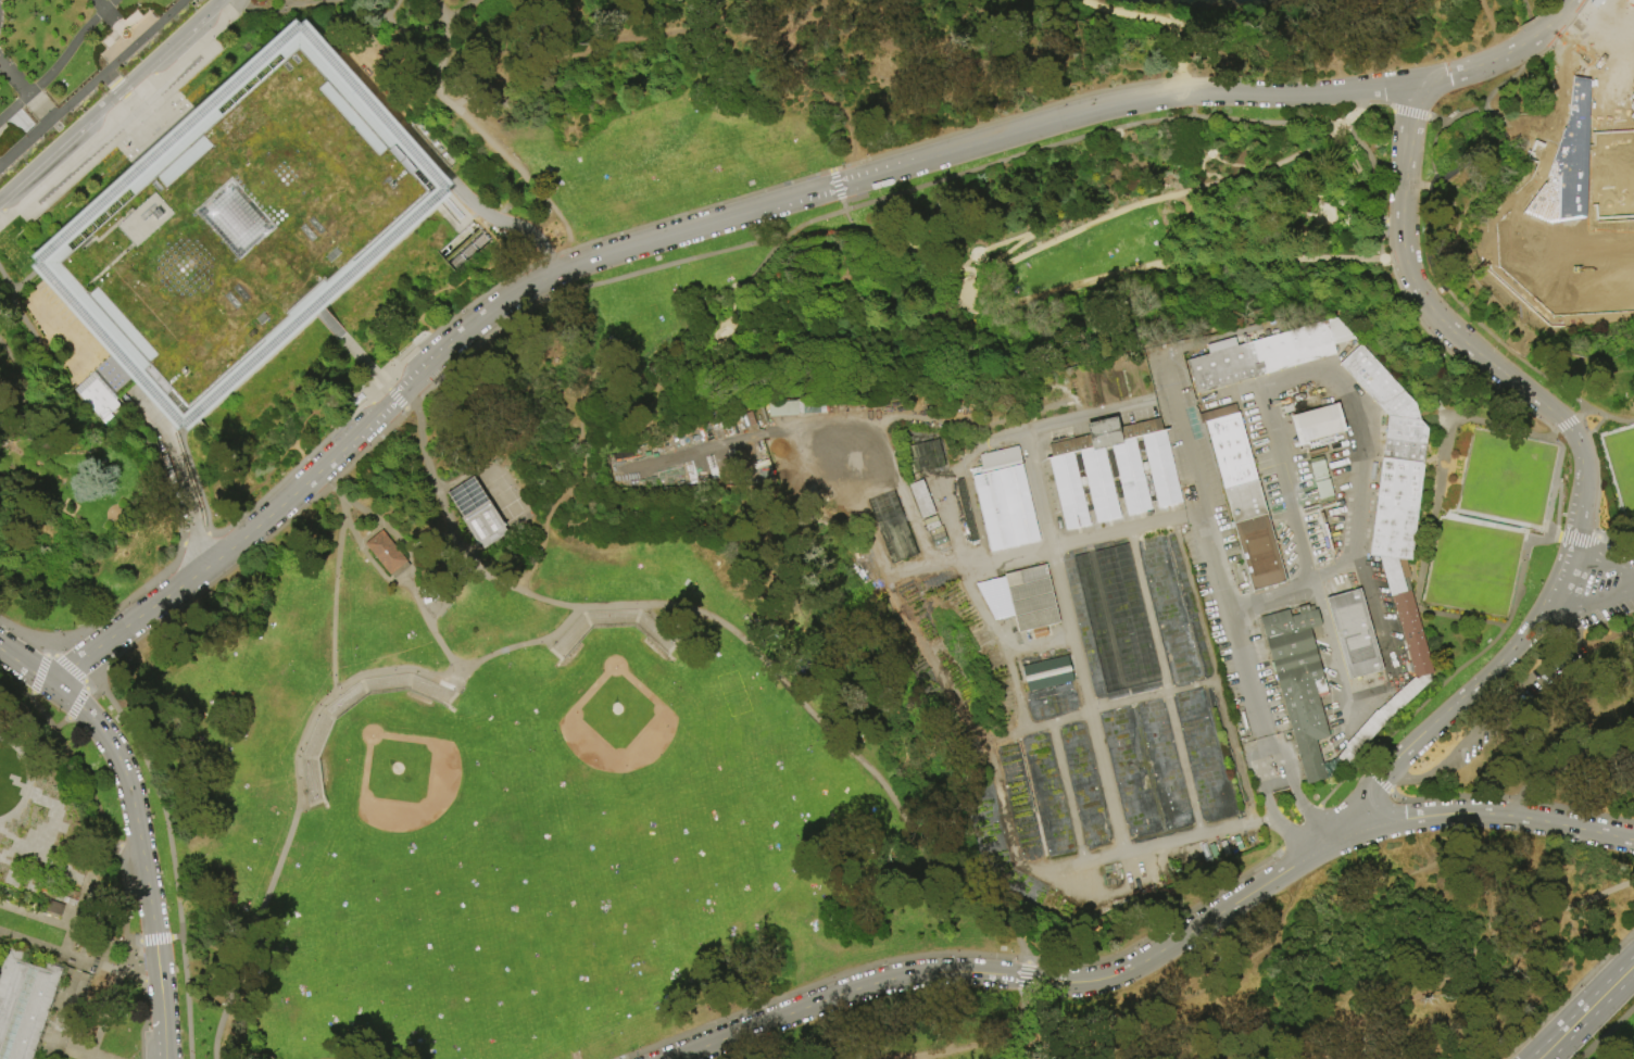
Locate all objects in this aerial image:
road: (288, 3)
road: (289, 5)
road: (457, 8)
road: (1563, 9)
road: (103, 10)
road: (1524, 10)
road: (664, 17)
road: (1155, 17)
road: (143, 25)
road: (1548, 25)
road: (1582, 25)
road: (1491, 28)
fountain: (125, 34)
road: (1534, 36)
road: (599, 46)
road: (115, 50)
road: (441, 60)
road: (120, 61)
road: (59, 62)
park: (68, 62)
road: (1471, 68)
road: (1558, 68)
road: (154, 71)
road: (804, 72)
road: (14, 78)
park: (1632, 79)
road: (1499, 85)
park: (1611, 85)
road: (116, 88)
road: (1549, 88)
road: (1187, 96)
road: (110, 99)
road: (133, 104)
road: (1375, 104)
road: (120, 110)
road: (1408, 112)
road: (1350, 114)
road: (5, 116)
parking lot: (113, 116)
road: (21, 118)
road: (1436, 121)
road: (1555, 121)
road: (1504, 125)
road: (154, 127)
road: (124, 135)
road: (25, 142)
road: (1059, 142)
park: (1633, 147)
road: (177, 151)
road: (9, 154)
road: (1457, 162)
road: (1223, 163)
building: (1566, 164)
park: (1617, 171)
road: (135, 175)
road: (525, 175)
road: (1374, 186)
road: (1524, 186)
road: (837, 190)
road: (1449, 190)
road: (1136, 204)
road: (2, 206)
road: (174, 214)
road: (846, 219)
road: (1391, 223)
building: (1517, 223)
road: (652, 224)
building: (241, 225)
road: (514, 227)
road: (109, 232)
road: (665, 236)
road: (1010, 239)
road: (1433, 254)
park: (1630, 257)
park: (1606, 261)
park: (1574, 263)
road: (112, 265)
road: (1143, 267)
road: (563, 282)
road: (1483, 287)
road: (967, 288)
road: (837, 292)
road: (1450, 294)
road: (721, 304)
road: (533, 307)
road: (1542, 312)
fountain: (713, 316)
road: (844, 320)
road: (25, 323)
road: (714, 329)
road: (750, 339)
road: (350, 346)
building: (1269, 355)
road: (1456, 356)
road: (734, 358)
road: (742, 360)
road: (1048, 360)
road: (478, 363)
road: (567, 368)
road: (1325, 370)
road: (633, 373)
road: (17, 374)
building: (1381, 386)
road: (501, 388)
road: (594, 391)
road: (40, 393)
road: (394, 396)
building: (96, 398)
road: (373, 406)
road: (1610, 416)
road: (624, 417)
road: (892, 419)
building: (1317, 423)
road: (529, 424)
road: (1564, 425)
road: (13, 426)
road: (1596, 426)
road: (142, 437)
road: (296, 437)
building: (1407, 440)
building: (1231, 445)
road: (299, 451)
building: (923, 455)
road: (32, 461)
road: (42, 463)
park: (1621, 466)
road: (1583, 467)
road: (39, 468)
building: (1319, 468)
road: (1596, 469)
road: (466, 470)
road: (193, 472)
road: (180, 477)
road: (188, 478)
road: (324, 479)
building: (1131, 479)
park: (1504, 481)
road: (1554, 486)
road: (1283, 488)
road: (1363, 488)
road: (338, 492)
building: (1327, 492)
building: (921, 499)
building: (1004, 500)
building: (1246, 501)
road: (1431, 503)
road: (1556, 507)
building: (1398, 509)
building: (476, 512)
park: (476, 512)
building: (965, 512)
road: (205, 518)
road: (548, 524)
building: (892, 527)
road: (205, 529)
park: (817, 529)
road: (1617, 530)
road: (372, 535)
road: (1549, 537)
road: (1576, 537)
road: (1598, 537)
road: (196, 539)
road: (1046, 549)
building: (1260, 552)
building: (385, 553)
road: (437, 554)
road: (1215, 555)
road: (369, 558)
road: (1601, 562)
park: (1472, 568)
road: (967, 570)
road: (214, 572)
road: (440, 573)
building: (1394, 577)
building: (435, 588)
road: (457, 588)
road: (1296, 589)
parking lot: (1606, 592)
road: (1317, 595)
building: (1031, 600)
road: (1196, 603)
road: (1591, 603)
road: (124, 606)
building: (995, 607)
building: (1291, 621)
road: (1606, 626)
road: (732, 631)
building: (1356, 634)
road: (24, 635)
building: (1413, 635)
road: (1073, 638)
road: (1386, 643)
road: (521, 644)
building: (1292, 644)
road: (49, 651)
road: (1337, 665)
road: (67, 667)
road: (28, 669)
road: (39, 673)
road: (332, 673)
building: (1047, 673)
road: (1449, 679)
road: (89, 683)
road: (1166, 683)
road: (32, 694)
building: (1406, 696)
road: (76, 704)
road: (1099, 706)
building: (1305, 708)
road: (120, 714)
road: (1484, 722)
road: (61, 724)
building: (1367, 733)
road: (1341, 736)
road: (1237, 753)
building: (1347, 757)
road: (1561, 757)
road: (991, 761)
road: (27, 778)
road: (1377, 778)
road: (1291, 789)
road: (1071, 795)
road: (1511, 797)
road: (1265, 802)
road: (98, 811)
road: (1483, 814)
flagpole: (1293, 817)
road: (1302, 829)
road: (43, 833)
road: (1317, 833)
road: (5, 837)
road: (139, 842)
road: (126, 848)
park: (550, 857)
road: (274, 870)
building: (52, 907)
road: (36, 917)
road: (71, 929)
road: (90, 933)
road: (1189, 934)
road: (176, 936)
road: (153, 938)
road: (133, 942)
road: (109, 943)
road: (51, 947)
road: (959, 955)
road: (120, 969)
road: (1027, 969)
road: (1451, 969)
road: (1026, 984)
road: (844, 993)
road: (1569, 994)
building: (23, 1003)
road: (1594, 1005)
road: (143, 1017)
road: (1020, 1025)
road: (1606, 1033)
road: (52, 1036)
road: (43, 1039)
road: (164, 1039)
road: (1003, 1044)
traffic signals: (1554, 1045)
road: (1543, 1051)
road: (1549, 1051)
road: (93, 1057)

